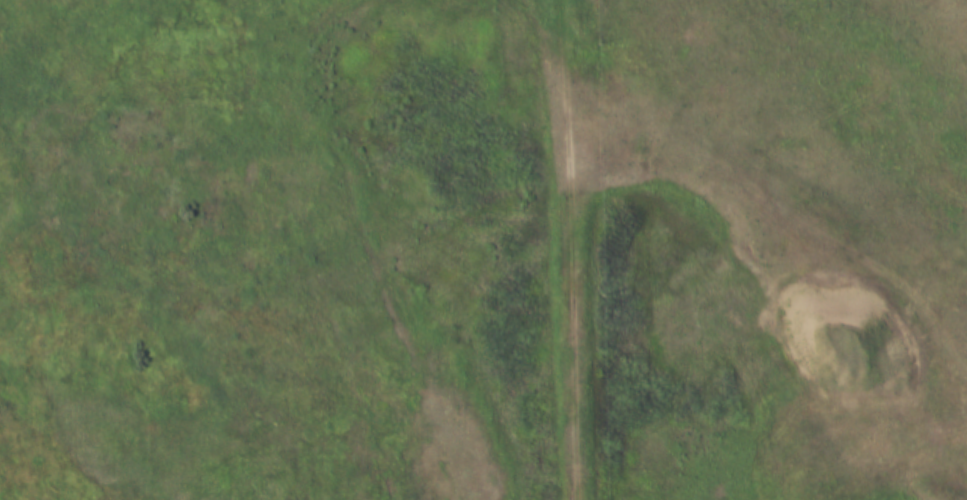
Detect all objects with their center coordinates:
road: (569, 250)

